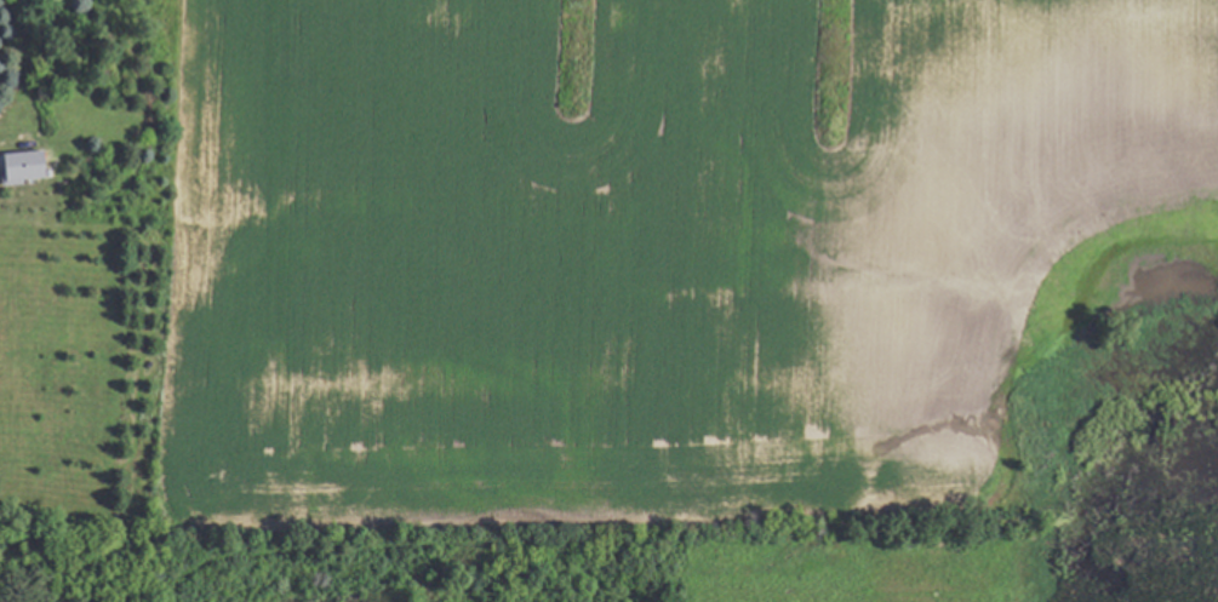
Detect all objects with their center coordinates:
building: (21, 166)

